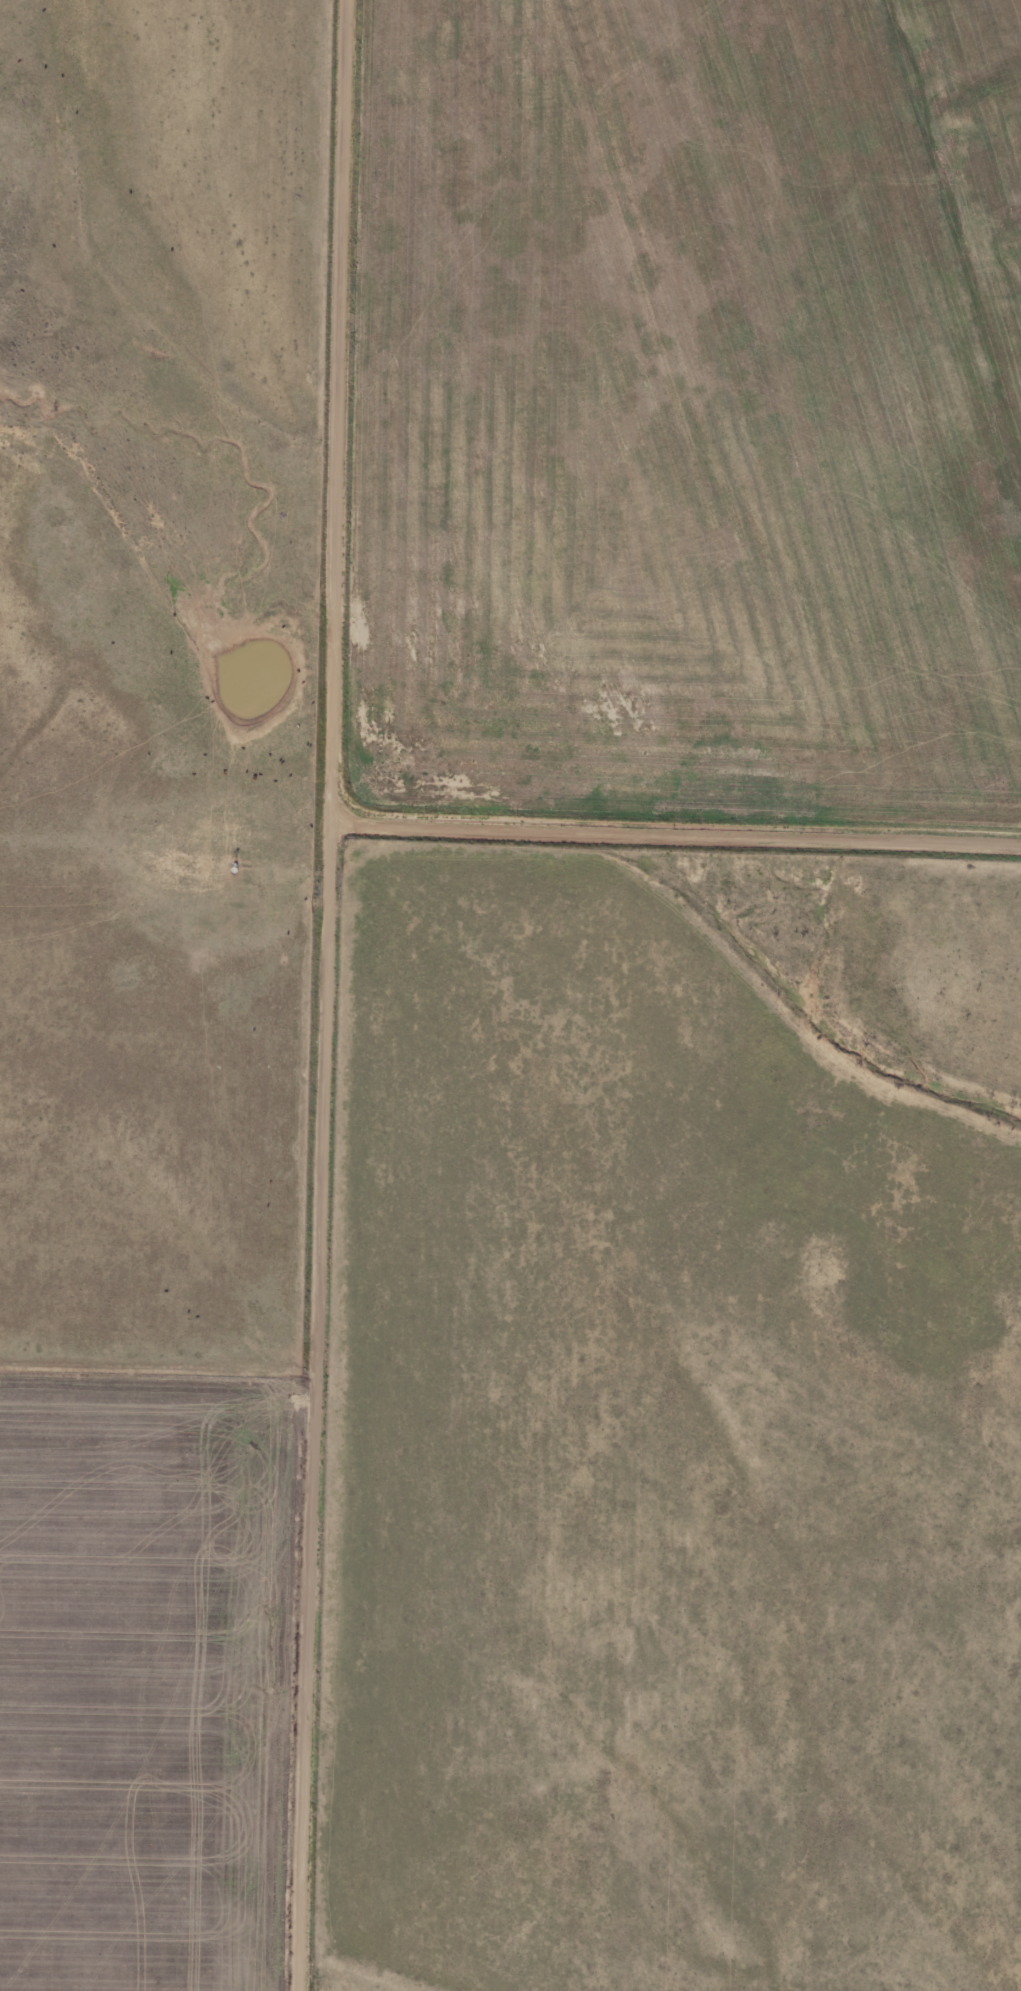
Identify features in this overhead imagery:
road: (677, 831)
road: (329, 995)

